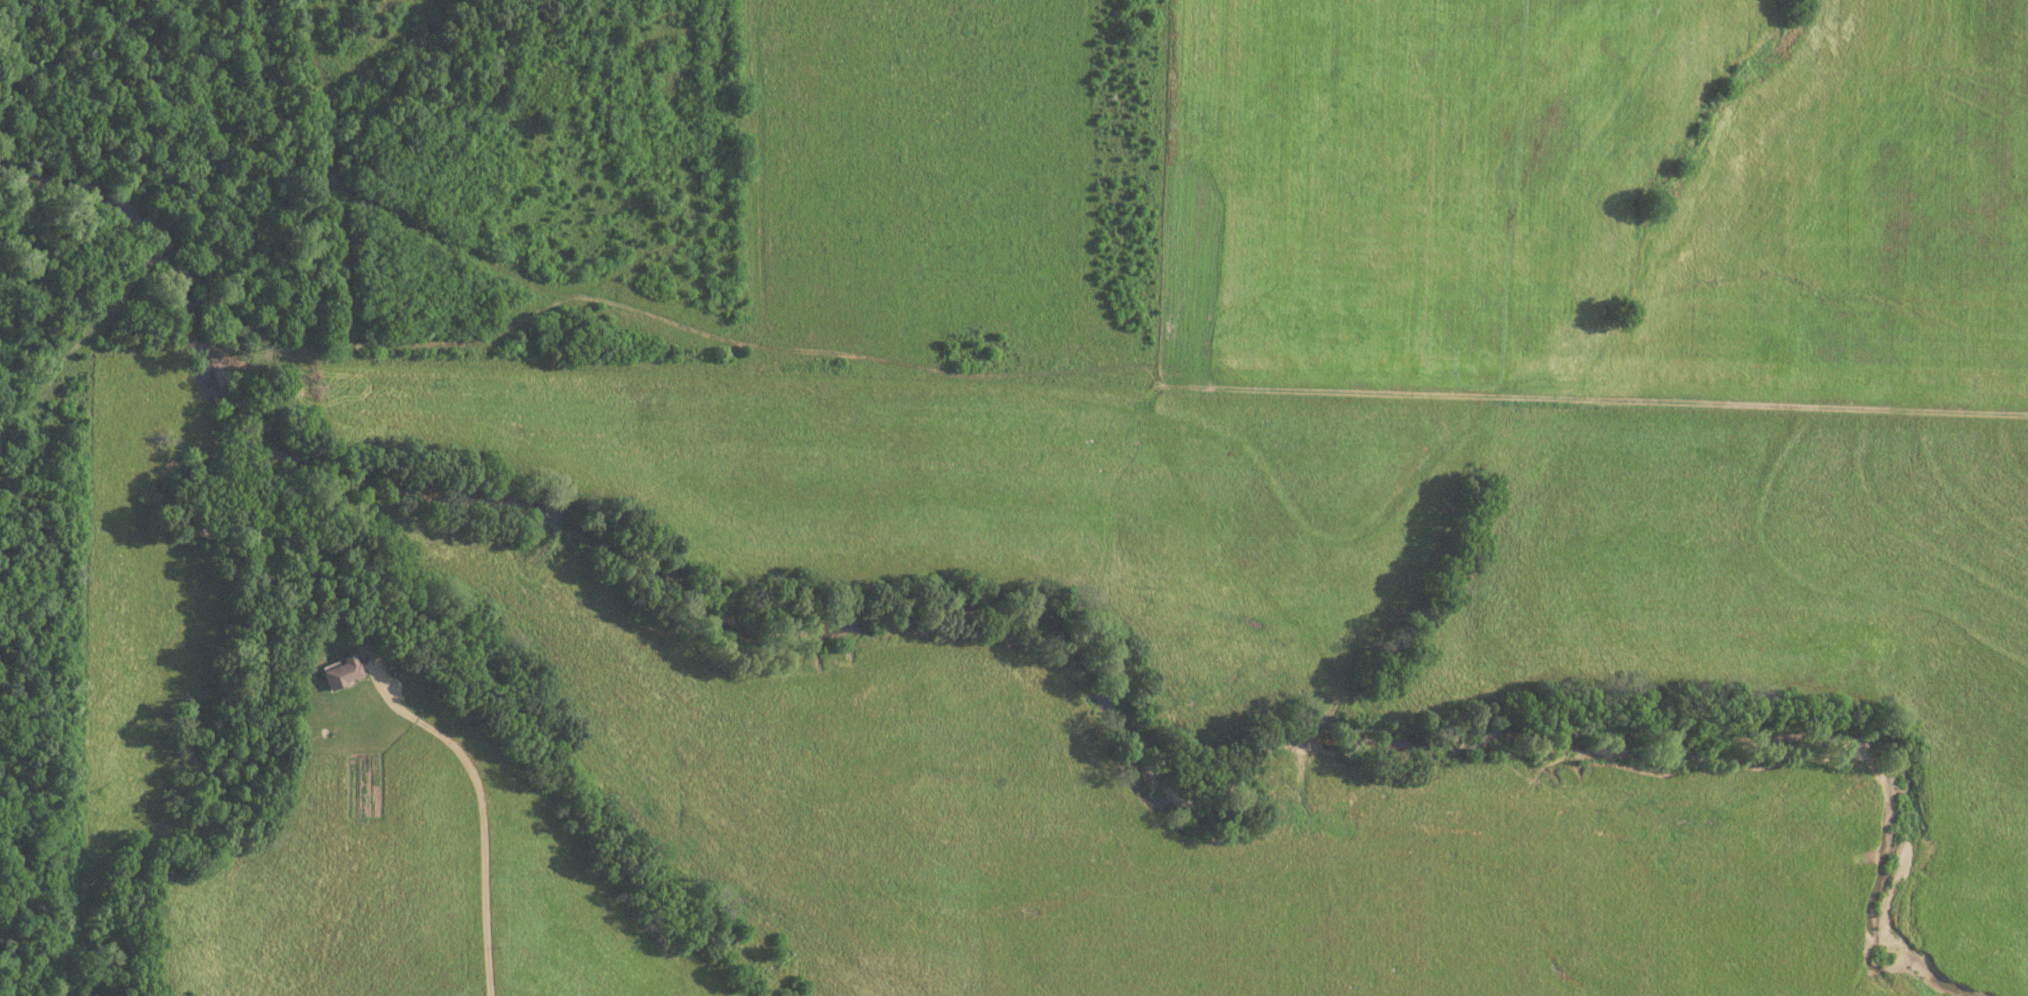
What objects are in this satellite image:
road: (1171, 387)
road: (486, 819)

